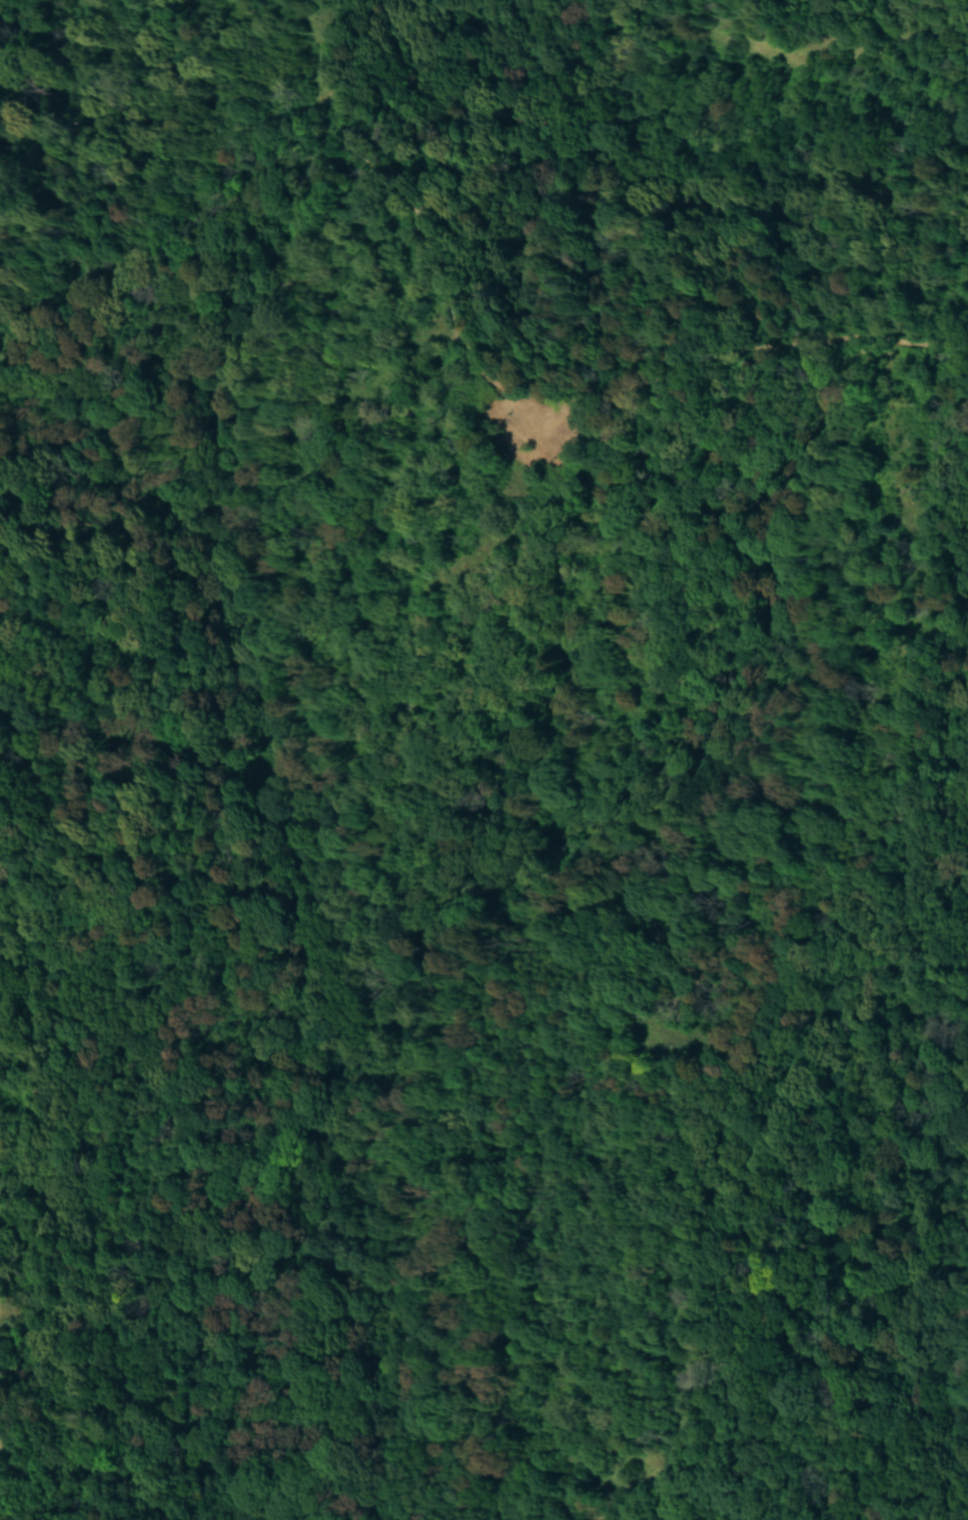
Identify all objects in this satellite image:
road: (446, 288)
road: (3, 1233)
road: (4, 1446)

